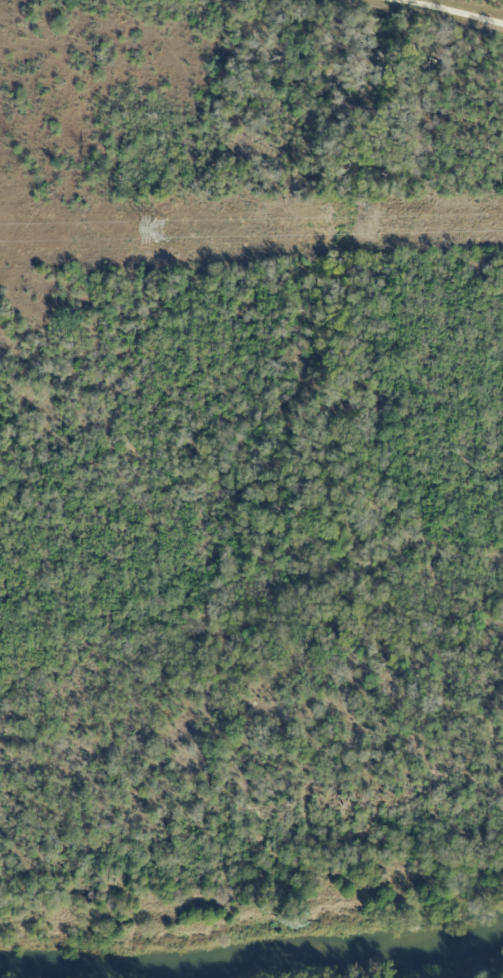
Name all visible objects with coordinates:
road: (439, 15)
power tower: (164, 230)
river: (252, 963)

